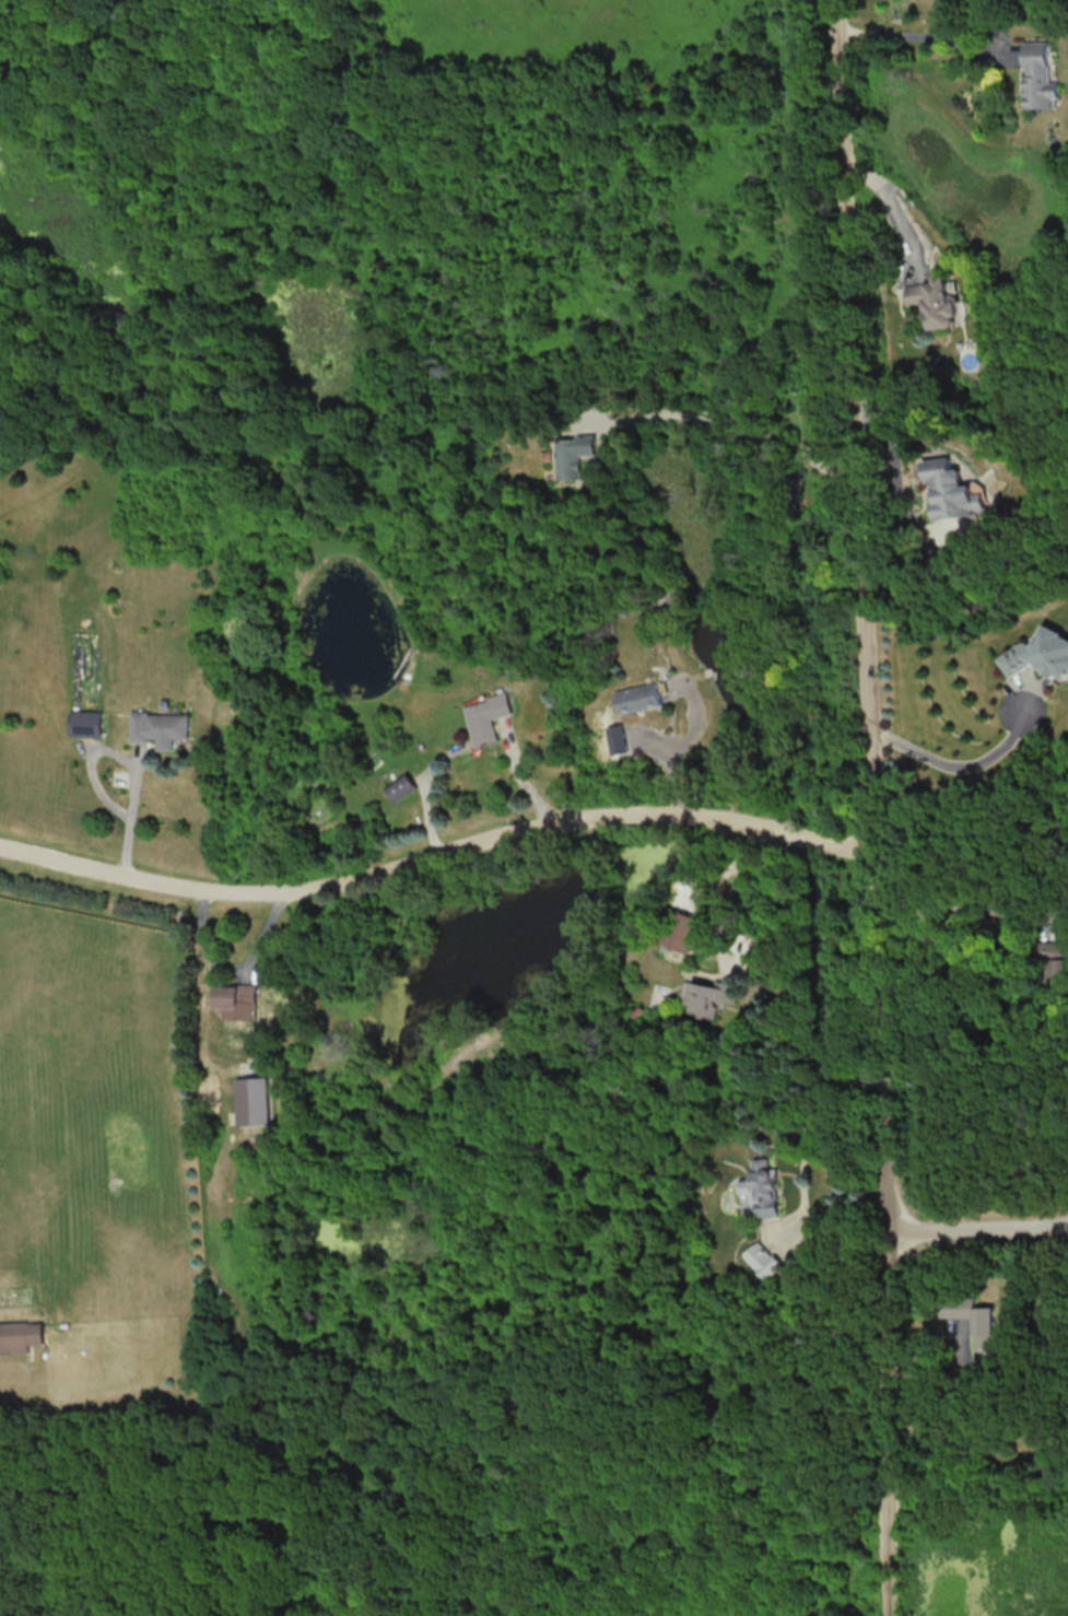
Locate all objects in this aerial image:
road: (925, 37)
building: (1038, 77)
road: (888, 201)
building: (932, 302)
road: (719, 426)
building: (571, 455)
road: (895, 468)
building: (1040, 655)
building: (636, 698)
building: (485, 717)
building: (85, 723)
building: (160, 727)
building: (614, 738)
road: (125, 754)
road: (950, 766)
road: (523, 782)
building: (400, 787)
road: (869, 807)
road: (434, 857)
road: (962, 910)
building: (678, 930)
building: (1056, 960)
road: (234, 967)
road: (731, 967)
building: (705, 996)
building: (238, 1000)
building: (256, 1101)
building: (762, 1187)
road: (978, 1230)
building: (763, 1258)
building: (971, 1314)
building: (20, 1336)

